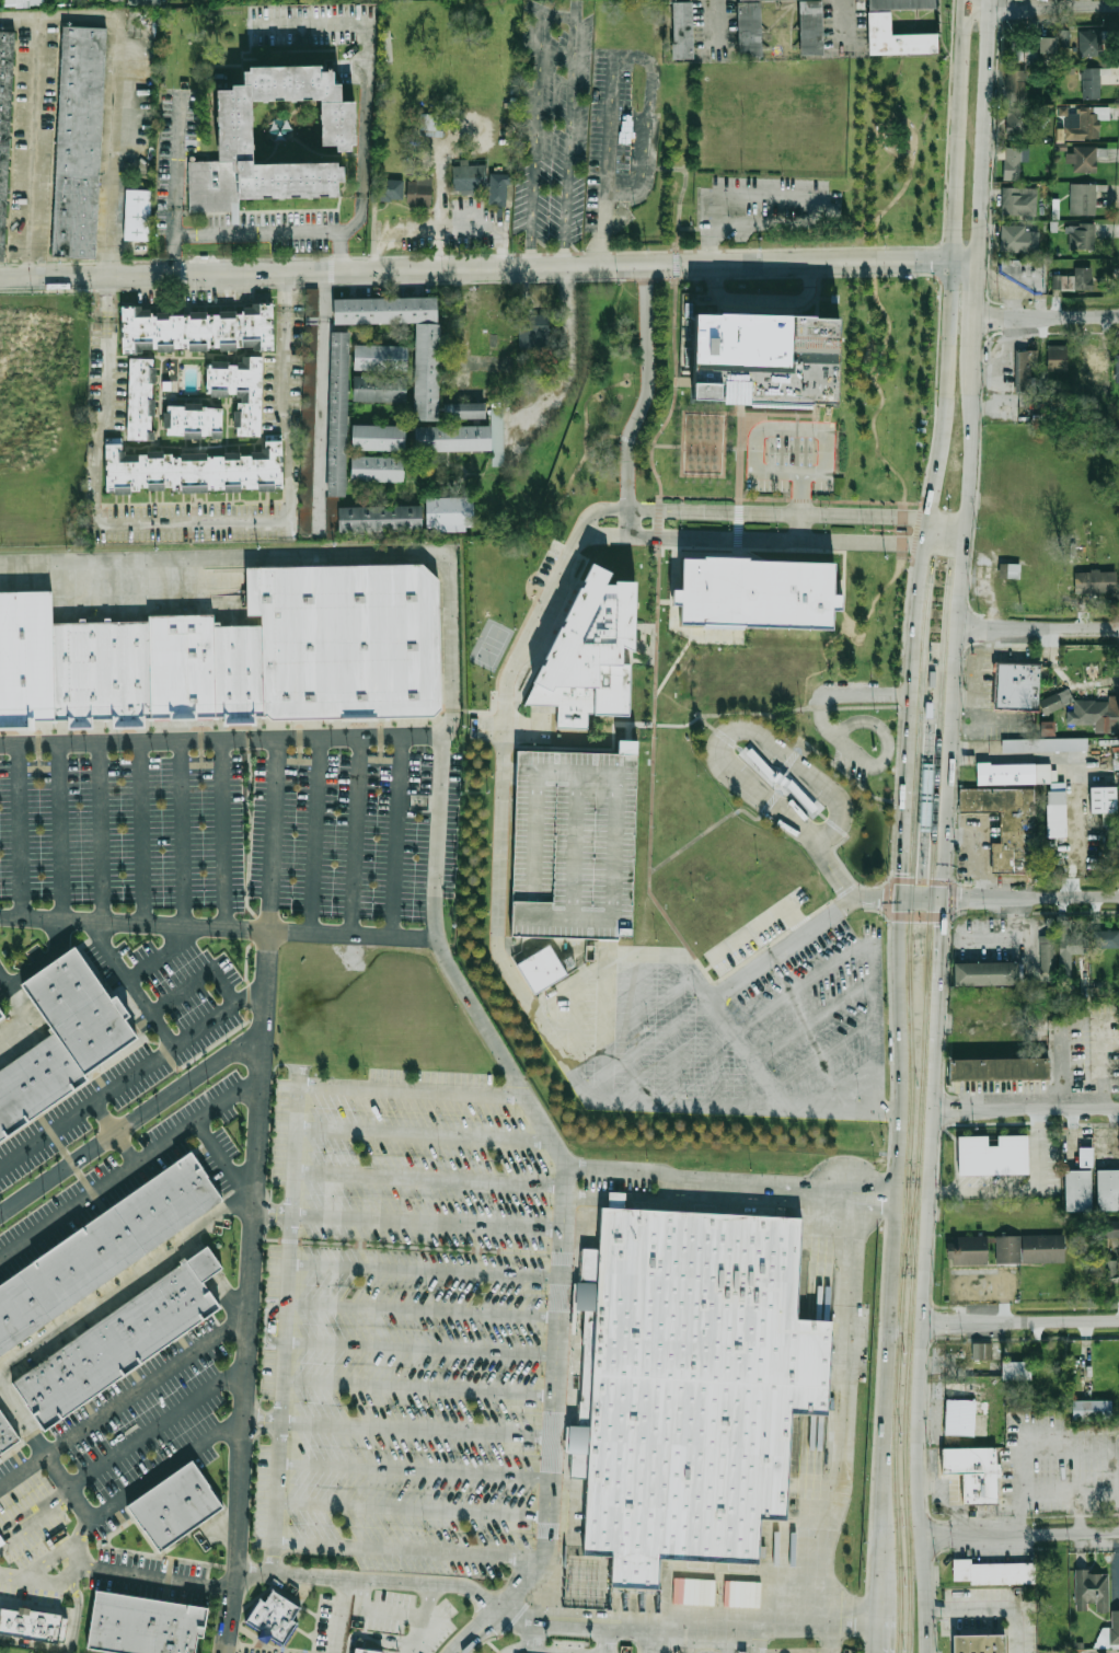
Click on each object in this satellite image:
building: (116, 0)
building: (153, 1)
building: (23, 2)
building: (135, 2)
road: (966, 2)
building: (900, 4)
road: (1042, 4)
road: (559, 14)
road: (844, 18)
road: (59, 20)
road: (714, 23)
building: (808, 27)
building: (748, 28)
building: (683, 31)
building: (899, 39)
building: (1048, 39)
building: (1091, 43)
building: (1017, 49)
road: (366, 83)
building: (1091, 83)
building: (1016, 85)
building: (839, 93)
building: (4, 119)
road: (650, 119)
building: (1017, 119)
building: (1089, 120)
building: (235, 122)
road: (612, 122)
parking lot: (610, 124)
building: (431, 125)
parking lot: (553, 125)
road: (985, 130)
road: (960, 136)
building: (78, 142)
road: (113, 150)
park: (897, 150)
road: (33, 151)
building: (828, 151)
road: (174, 160)
building: (1084, 160)
building: (1013, 163)
building: (469, 177)
building: (497, 188)
building: (388, 189)
building: (418, 192)
road: (735, 194)
building: (1084, 199)
building: (1019, 201)
building: (140, 215)
building: (237, 217)
road: (252, 231)
road: (602, 231)
building: (1083, 236)
building: (1019, 239)
road: (872, 248)
road: (350, 257)
road: (967, 264)
road: (332, 269)
building: (1028, 271)
road: (477, 273)
road: (845, 275)
building: (1072, 280)
road: (284, 292)
flagpole: (207, 293)
flagpole: (200, 294)
road: (819, 298)
road: (107, 299)
road: (763, 300)
building: (382, 309)
road: (1048, 313)
road: (463, 327)
building: (199, 331)
building: (532, 332)
road: (974, 345)
building: (378, 356)
building: (1057, 358)
building: (757, 361)
building: (1094, 366)
building: (1117, 368)
building: (1027, 369)
building: (424, 371)
building: (309, 373)
road: (570, 377)
road: (873, 380)
park: (885, 384)
building: (378, 386)
building: (239, 392)
building: (139, 398)
road: (320, 401)
road: (642, 404)
road: (584, 406)
building: (462, 409)
road: (773, 413)
building: (336, 414)
building: (193, 421)
road: (104, 423)
building: (376, 437)
building: (450, 438)
road: (593, 443)
road: (875, 443)
road: (730, 447)
road: (737, 450)
parking lot: (789, 455)
building: (376, 467)
building: (194, 470)
road: (722, 473)
road: (936, 490)
road: (791, 499)
road: (286, 507)
building: (446, 511)
road: (596, 513)
road: (778, 513)
building: (377, 517)
road: (948, 521)
road: (736, 522)
road: (799, 527)
flagpole: (874, 530)
flagpole: (884, 530)
flagpole: (895, 531)
road: (601, 535)
road: (776, 539)
road: (945, 545)
road: (226, 559)
railway: (932, 565)
road: (659, 567)
railway: (949, 567)
building: (1006, 569)
park: (496, 578)
building: (1095, 581)
building: (758, 592)
road: (1036, 626)
park: (491, 645)
railway: (924, 649)
building: (237, 651)
railway: (943, 651)
building: (590, 654)
road: (674, 661)
road: (951, 663)
building: (1018, 685)
road: (866, 694)
building: (1055, 698)
road: (835, 707)
building: (1092, 713)
road: (822, 714)
road: (705, 723)
railway: (935, 723)
road: (748, 729)
road: (519, 731)
road: (630, 732)
road: (725, 737)
road: (314, 740)
building: (1043, 744)
road: (803, 745)
road: (613, 748)
road: (739, 748)
road: (887, 748)
road: (909, 749)
road: (1017, 751)
road: (838, 754)
road: (792, 759)
parking lot: (851, 763)
road: (507, 773)
building: (1017, 773)
road: (781, 781)
building: (1055, 797)
building: (1106, 800)
road: (770, 804)
road: (822, 816)
building: (1008, 824)
road: (835, 827)
road: (101, 831)
road: (141, 831)
road: (19, 832)
road: (58, 832)
road: (182, 833)
road: (223, 833)
road: (705, 833)
road: (273, 834)
parking lot: (222, 835)
road: (315, 835)
road: (354, 835)
road: (396, 836)
road: (438, 839)
road: (903, 841)
building: (574, 844)
parking lot: (574, 844)
road: (832, 868)
traffic signals: (902, 875)
road: (922, 880)
road: (921, 882)
road: (880, 886)
road: (501, 887)
road: (878, 898)
traffic signals: (879, 899)
road: (920, 900)
traffic signals: (964, 900)
road: (1029, 901)
road: (796, 921)
road: (217, 926)
traffic signals: (939, 927)
road: (753, 933)
road: (994, 937)
building: (1106, 938)
parking lot: (759, 943)
road: (783, 946)
building: (1073, 947)
road: (160, 950)
road: (608, 951)
railway: (910, 951)
railway: (927, 953)
road: (938, 953)
building: (1049, 953)
road: (646, 955)
road: (42, 960)
building: (541, 969)
building: (990, 973)
road: (796, 989)
parking lot: (819, 1014)
building: (1, 1017)
road: (876, 1018)
road: (816, 1020)
road: (161, 1028)
road: (575, 1028)
road: (636, 1028)
road: (676, 1029)
road: (605, 1031)
building: (59, 1039)
parking lot: (651, 1040)
road: (934, 1045)
road: (497, 1049)
road: (745, 1049)
road: (827, 1054)
road: (715, 1056)
building: (1002, 1067)
road: (118, 1084)
road: (843, 1086)
road: (406, 1090)
road: (228, 1098)
road: (781, 1108)
road: (1025, 1109)
road: (845, 1110)
road: (132, 1119)
road: (419, 1132)
road: (47, 1134)
road: (126, 1147)
road: (1037, 1148)
building: (992, 1155)
building: (1085, 1157)
road: (141, 1159)
road: (425, 1175)
road: (726, 1181)
road: (982, 1189)
building: (1081, 1190)
building: (1109, 1190)
building: (616, 1200)
road: (812, 1201)
road: (270, 1211)
road: (423, 1221)
railway: (905, 1225)
railway: (910, 1225)
railway: (910, 1226)
railway: (914, 1226)
building: (1110, 1228)
building: (993, 1235)
building: (1010, 1244)
building: (1046, 1244)
road: (191, 1245)
building: (971, 1246)
road: (416, 1247)
building: (102, 1249)
road: (286, 1255)
road: (891, 1257)
road: (204, 1262)
building: (201, 1263)
road: (420, 1271)
building: (1110, 1271)
road: (123, 1281)
road: (224, 1291)
road: (250, 1291)
road: (418, 1311)
road: (1018, 1319)
road: (268, 1323)
parking lot: (418, 1343)
building: (113, 1344)
road: (417, 1348)
building: (981, 1351)
flagpole: (579, 1367)
road: (916, 1368)
building: (1016, 1371)
road: (416, 1386)
building: (690, 1386)
road: (124, 1394)
road: (847, 1406)
road: (549, 1408)
parking lot: (147, 1411)
building: (1094, 1411)
building: (961, 1417)
road: (21, 1419)
road: (157, 1425)
road: (395, 1430)
building: (7, 1434)
building: (793, 1452)
building: (0, 1459)
railway: (895, 1463)
railway: (903, 1464)
road: (164, 1468)
road: (411, 1469)
building: (976, 1471)
parking lot: (954, 1491)
road: (274, 1496)
road: (32, 1505)
building: (174, 1507)
road: (408, 1507)
building: (11, 1528)
road: (1023, 1534)
road: (89, 1569)
building: (964, 1569)
building: (1002, 1573)
road: (369, 1580)
building: (1093, 1591)
road: (535, 1597)
road: (991, 1609)
road: (395, 1611)
road: (585, 1612)
road: (334, 1615)
building: (275, 1617)
building: (34, 1623)
building: (141, 1626)
road: (416, 1628)
road: (684, 1629)
building: (1111, 1631)
road: (828, 1634)
road: (879, 1634)
road: (383, 1635)
road: (757, 1638)
road: (68, 1640)
road: (463, 1641)
road: (487, 1641)
road: (603, 1641)
road: (350, 1643)
road: (530, 1643)
road: (656, 1643)
building: (979, 1643)
road: (412, 1648)
building: (367, 1650)
road: (535, 1652)
building: (741, 1652)
road: (1091, 1652)

